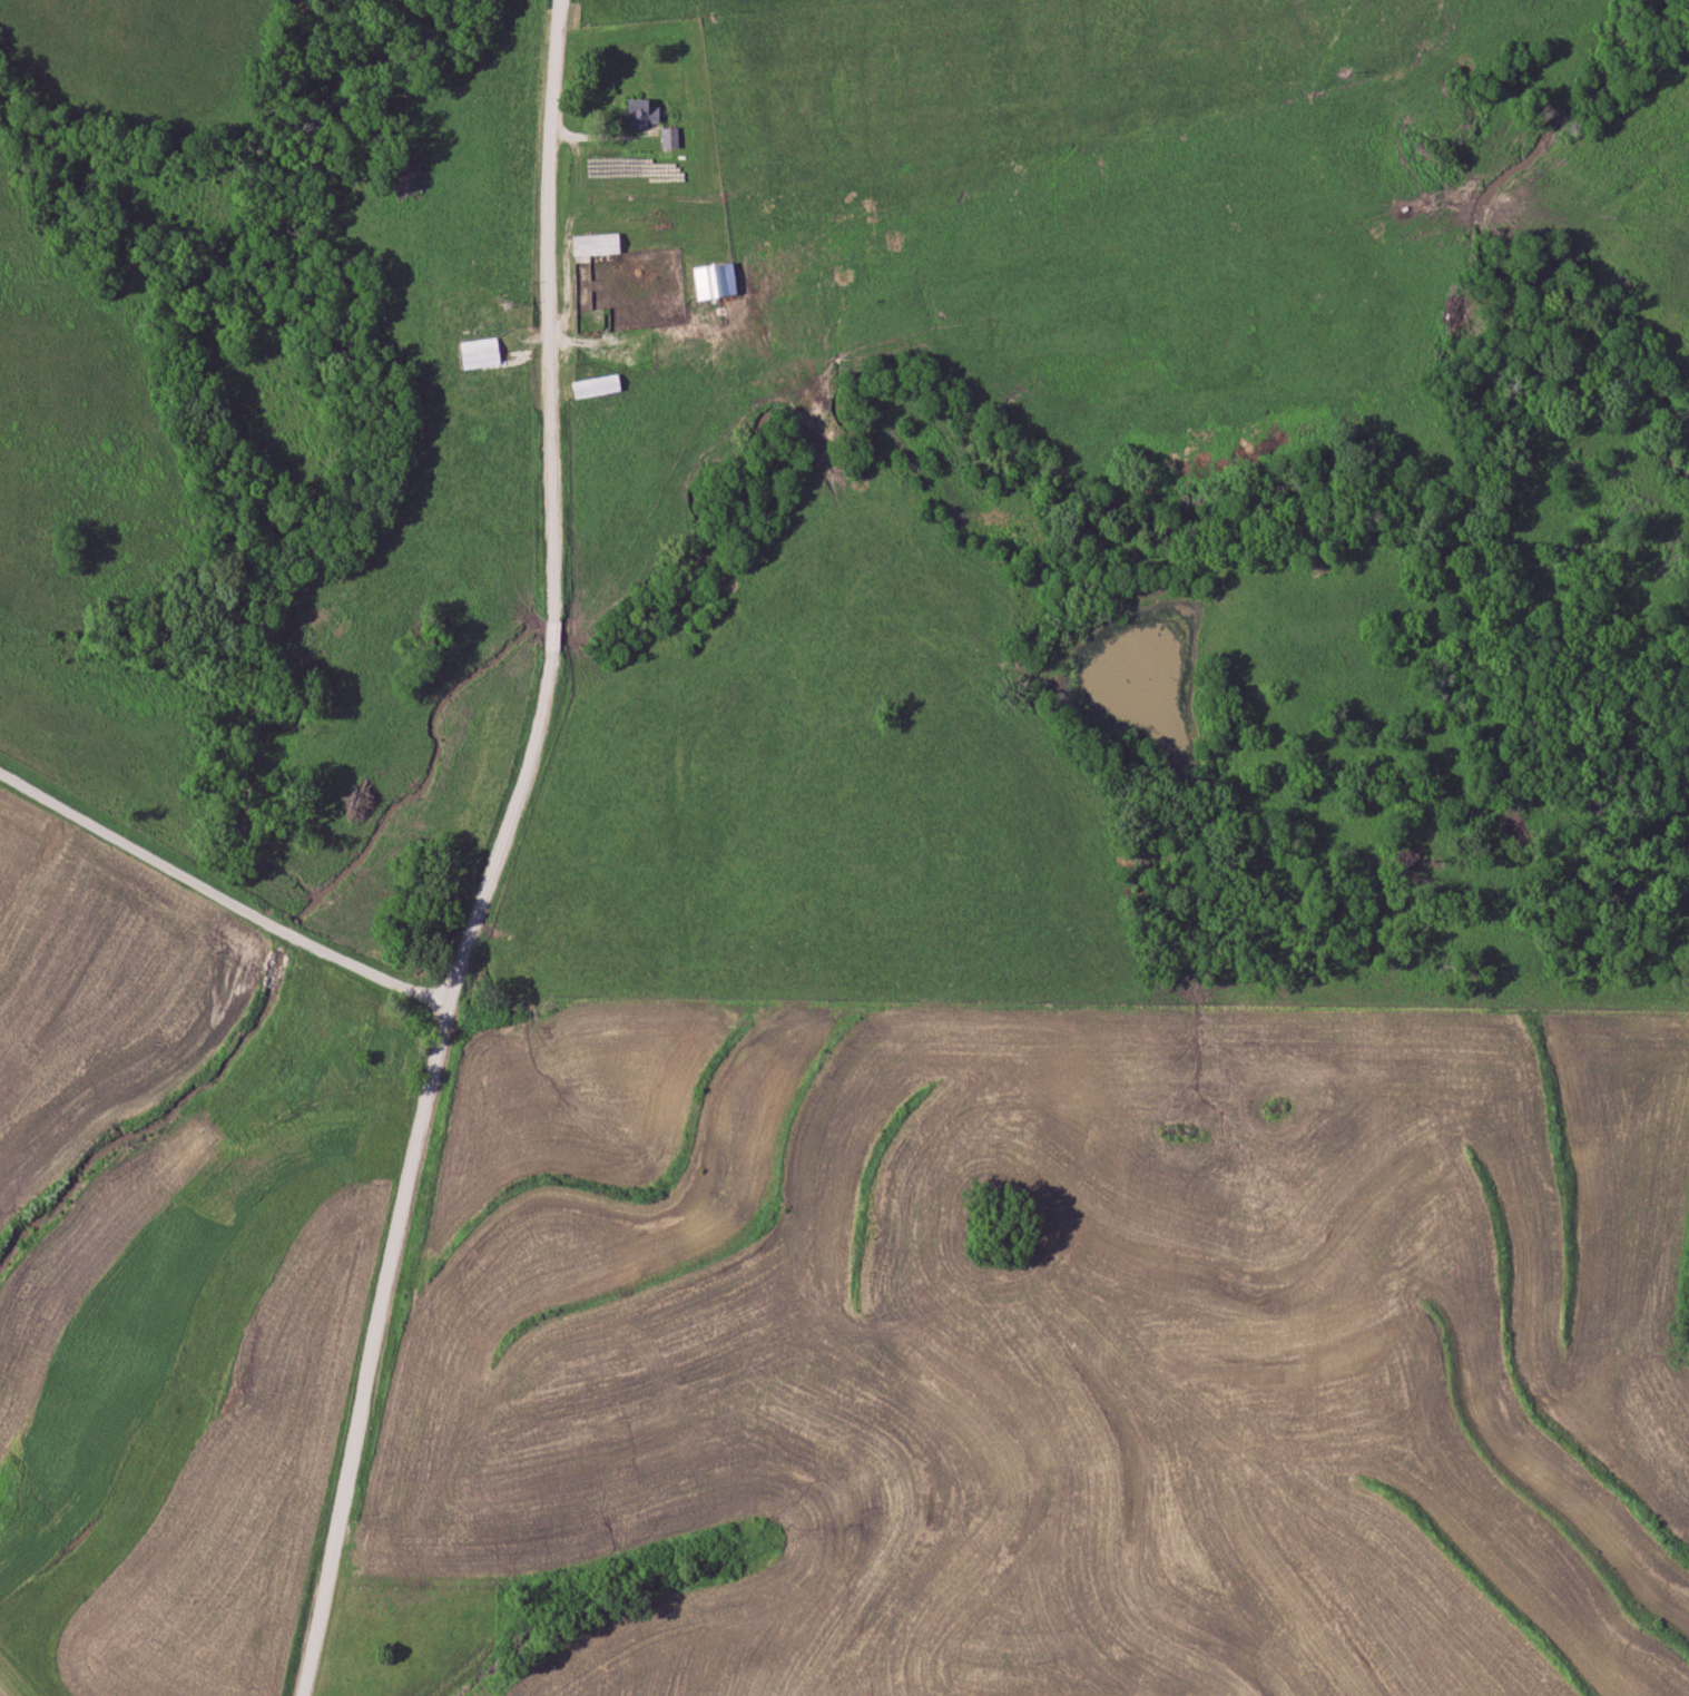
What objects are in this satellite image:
building: (669, 27)
building: (644, 111)
building: (670, 139)
building: (598, 244)
building: (717, 281)
building: (481, 353)
building: (598, 386)
road: (493, 855)
road: (218, 898)
building: (393, 1053)
road: (504, 1449)

